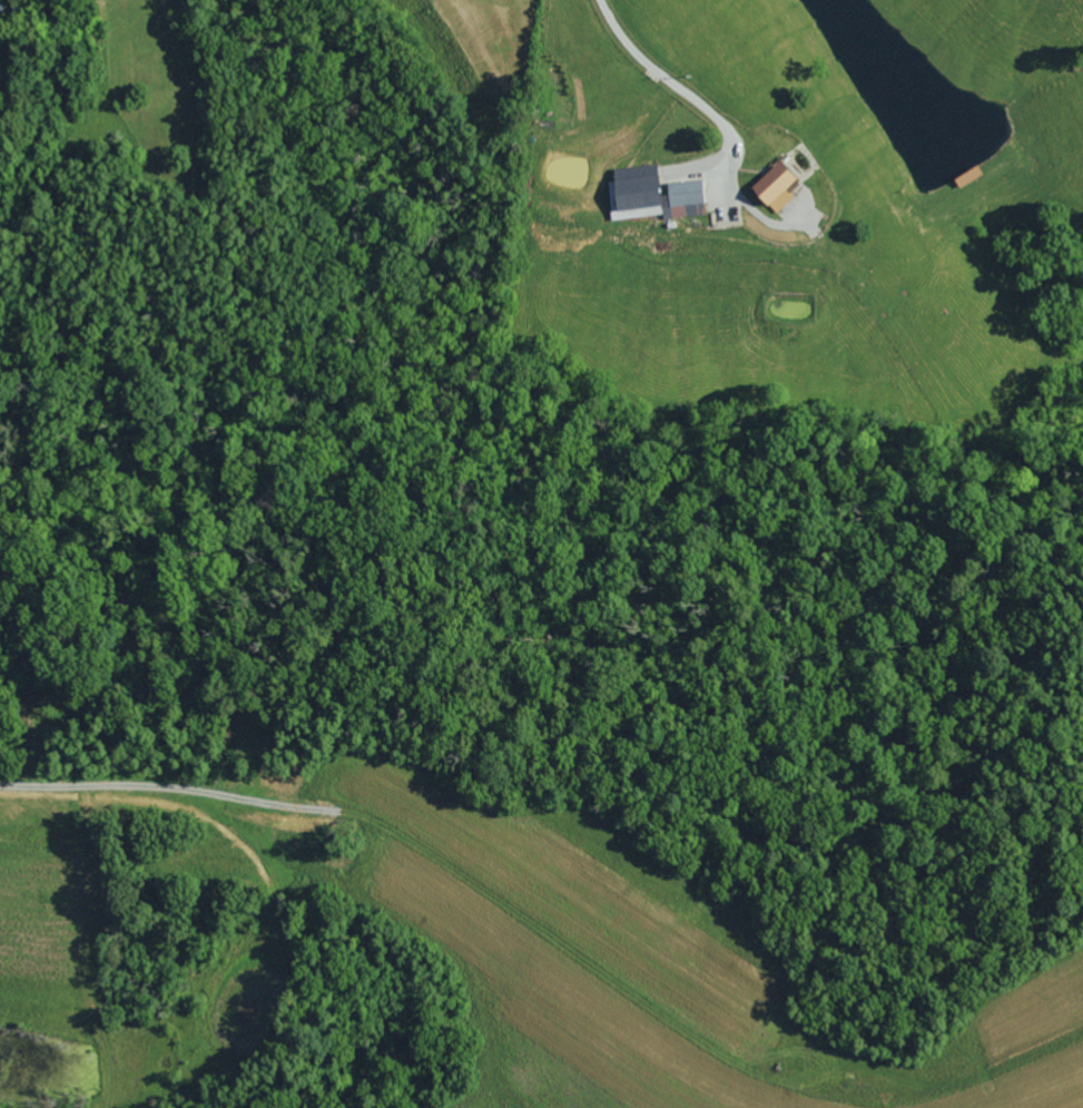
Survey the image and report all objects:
building: (770, 183)
building: (649, 195)

